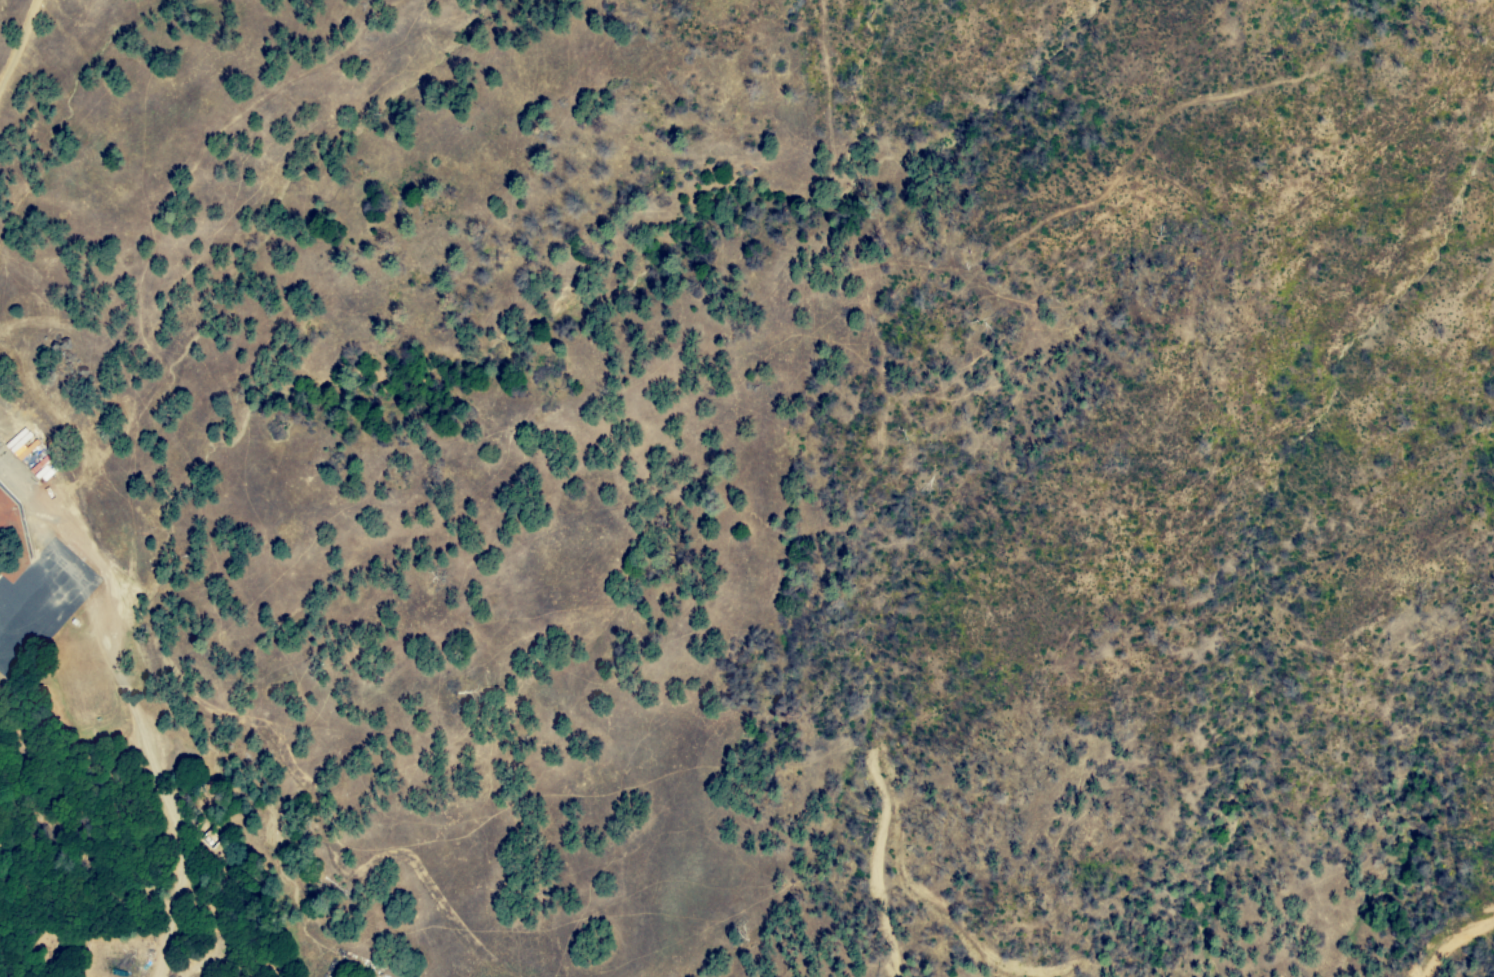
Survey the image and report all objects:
road: (6, 455)

